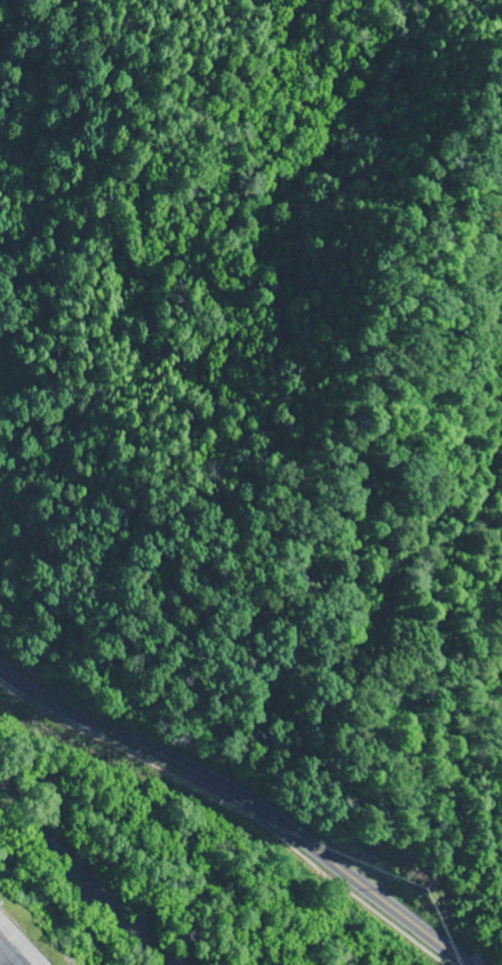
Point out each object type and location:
road: (232, 807)
river: (86, 869)
road: (21, 940)
building: (5, 958)

